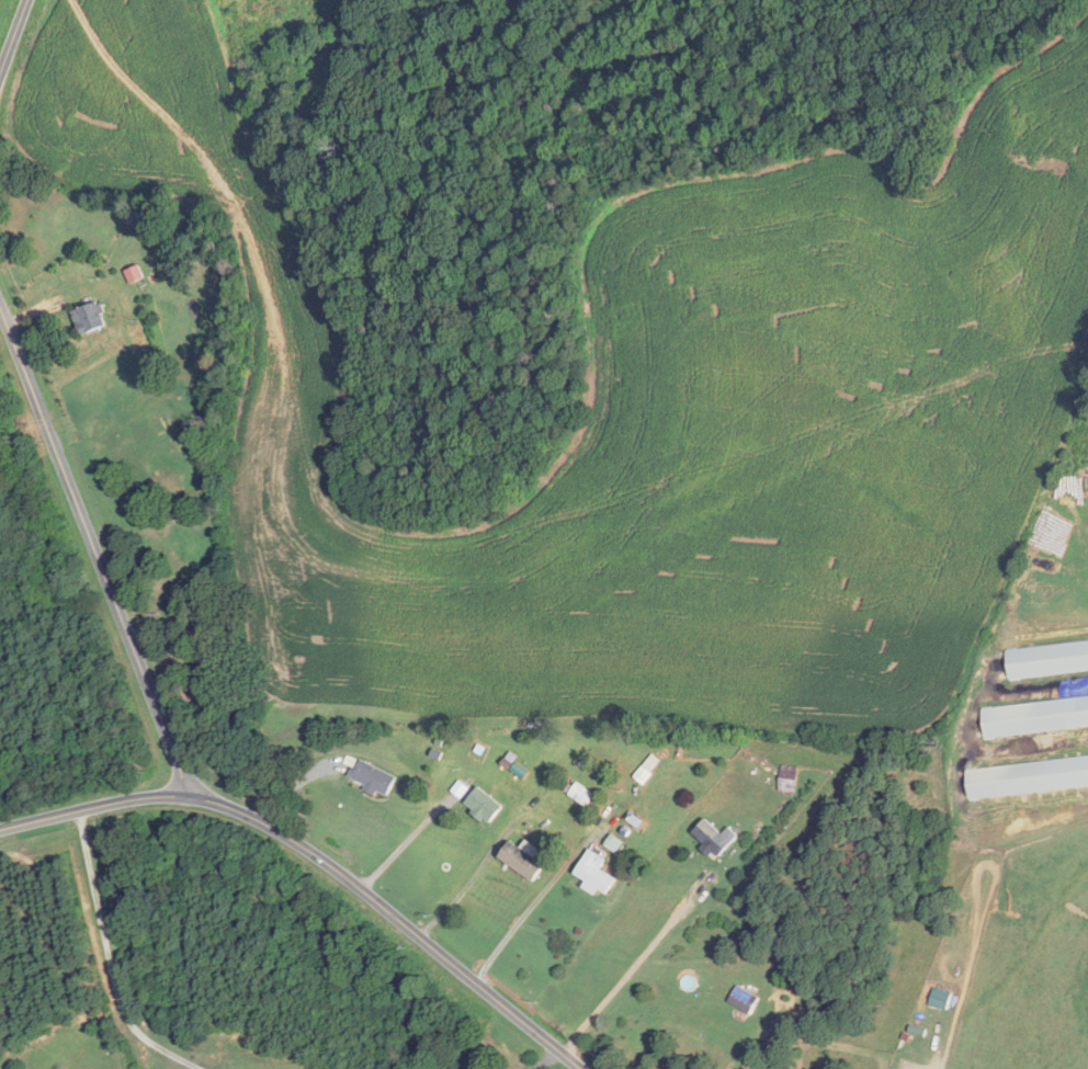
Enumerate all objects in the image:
road: (13, 35)
building: (136, 273)
building: (91, 317)
road: (75, 498)
building: (1046, 659)
building: (1036, 716)
road: (171, 741)
building: (646, 771)
building: (1027, 776)
building: (375, 777)
building: (789, 778)
building: (485, 804)
building: (715, 837)
road: (400, 844)
road: (319, 856)
building: (524, 860)
building: (597, 872)
road: (469, 880)
road: (530, 907)
road: (110, 958)
road: (634, 968)
building: (744, 1000)
road: (546, 1059)

